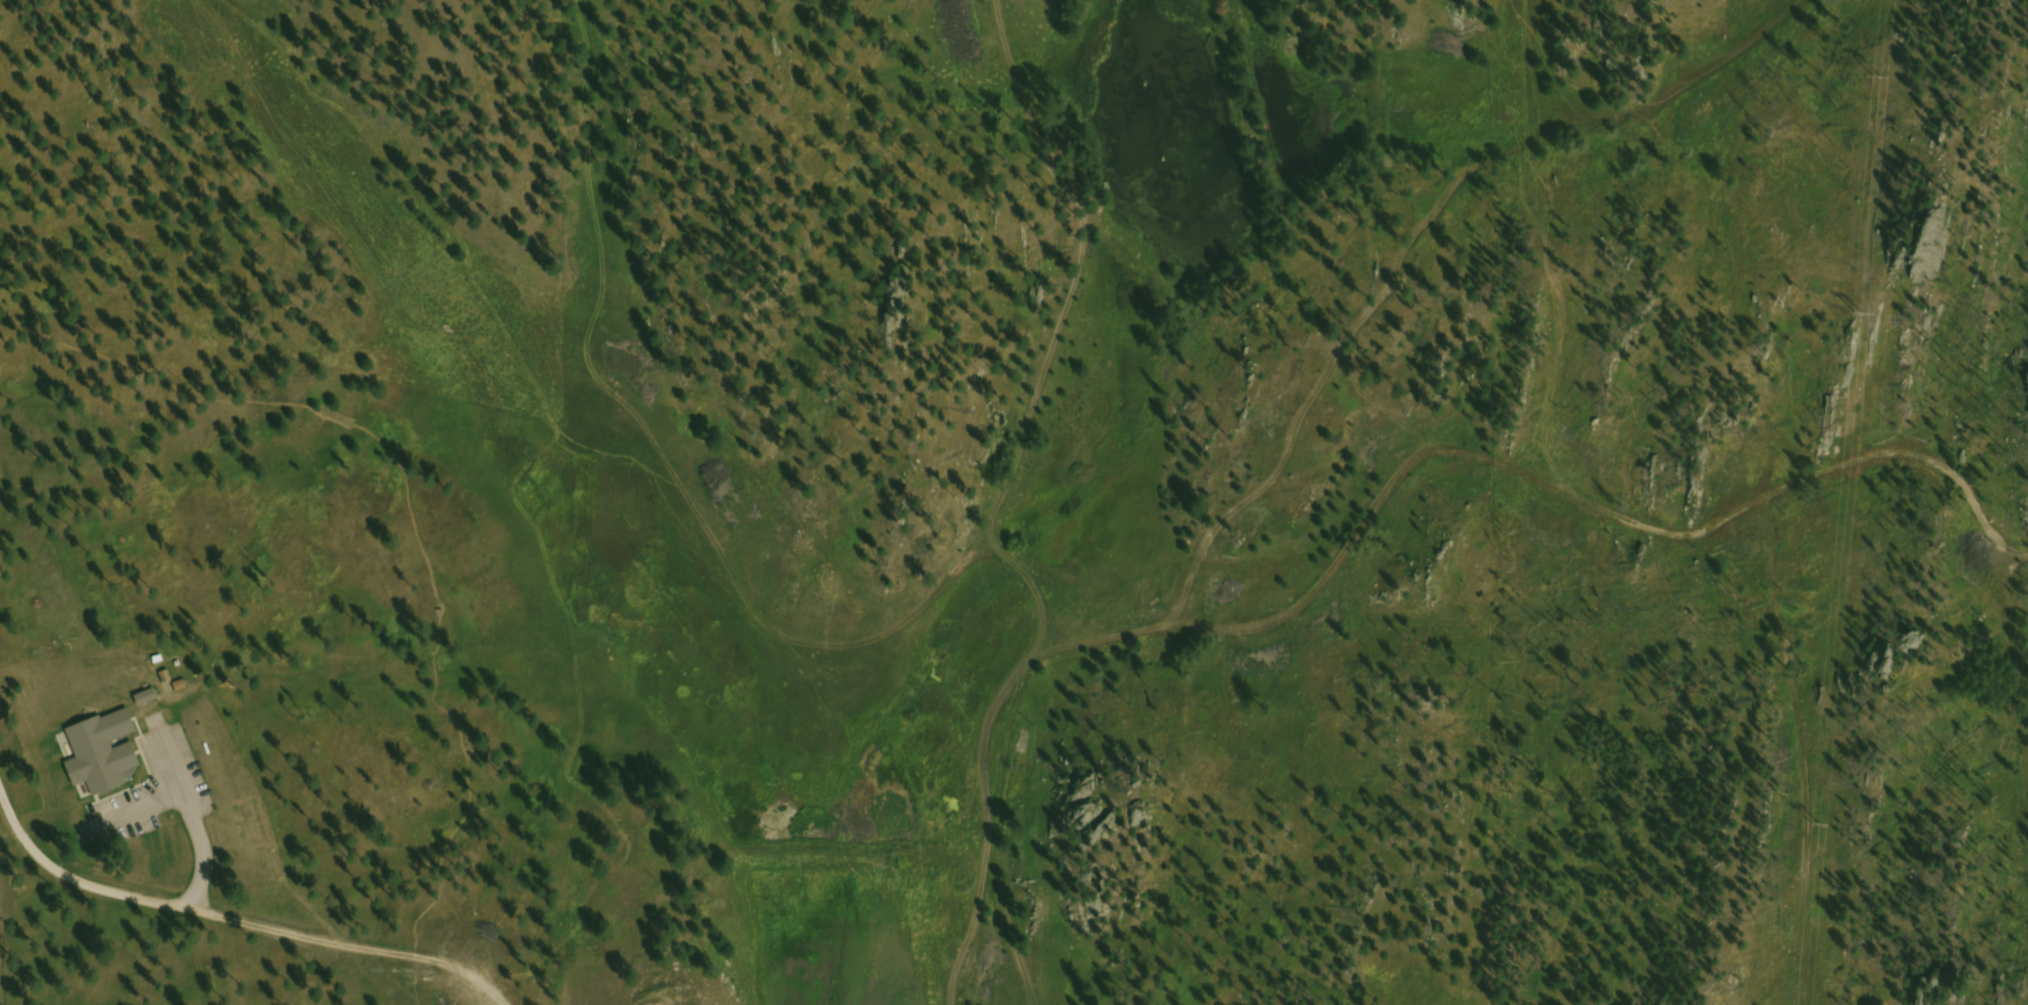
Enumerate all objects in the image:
road: (1812, 476)
building: (149, 700)
building: (105, 755)
road: (233, 920)

